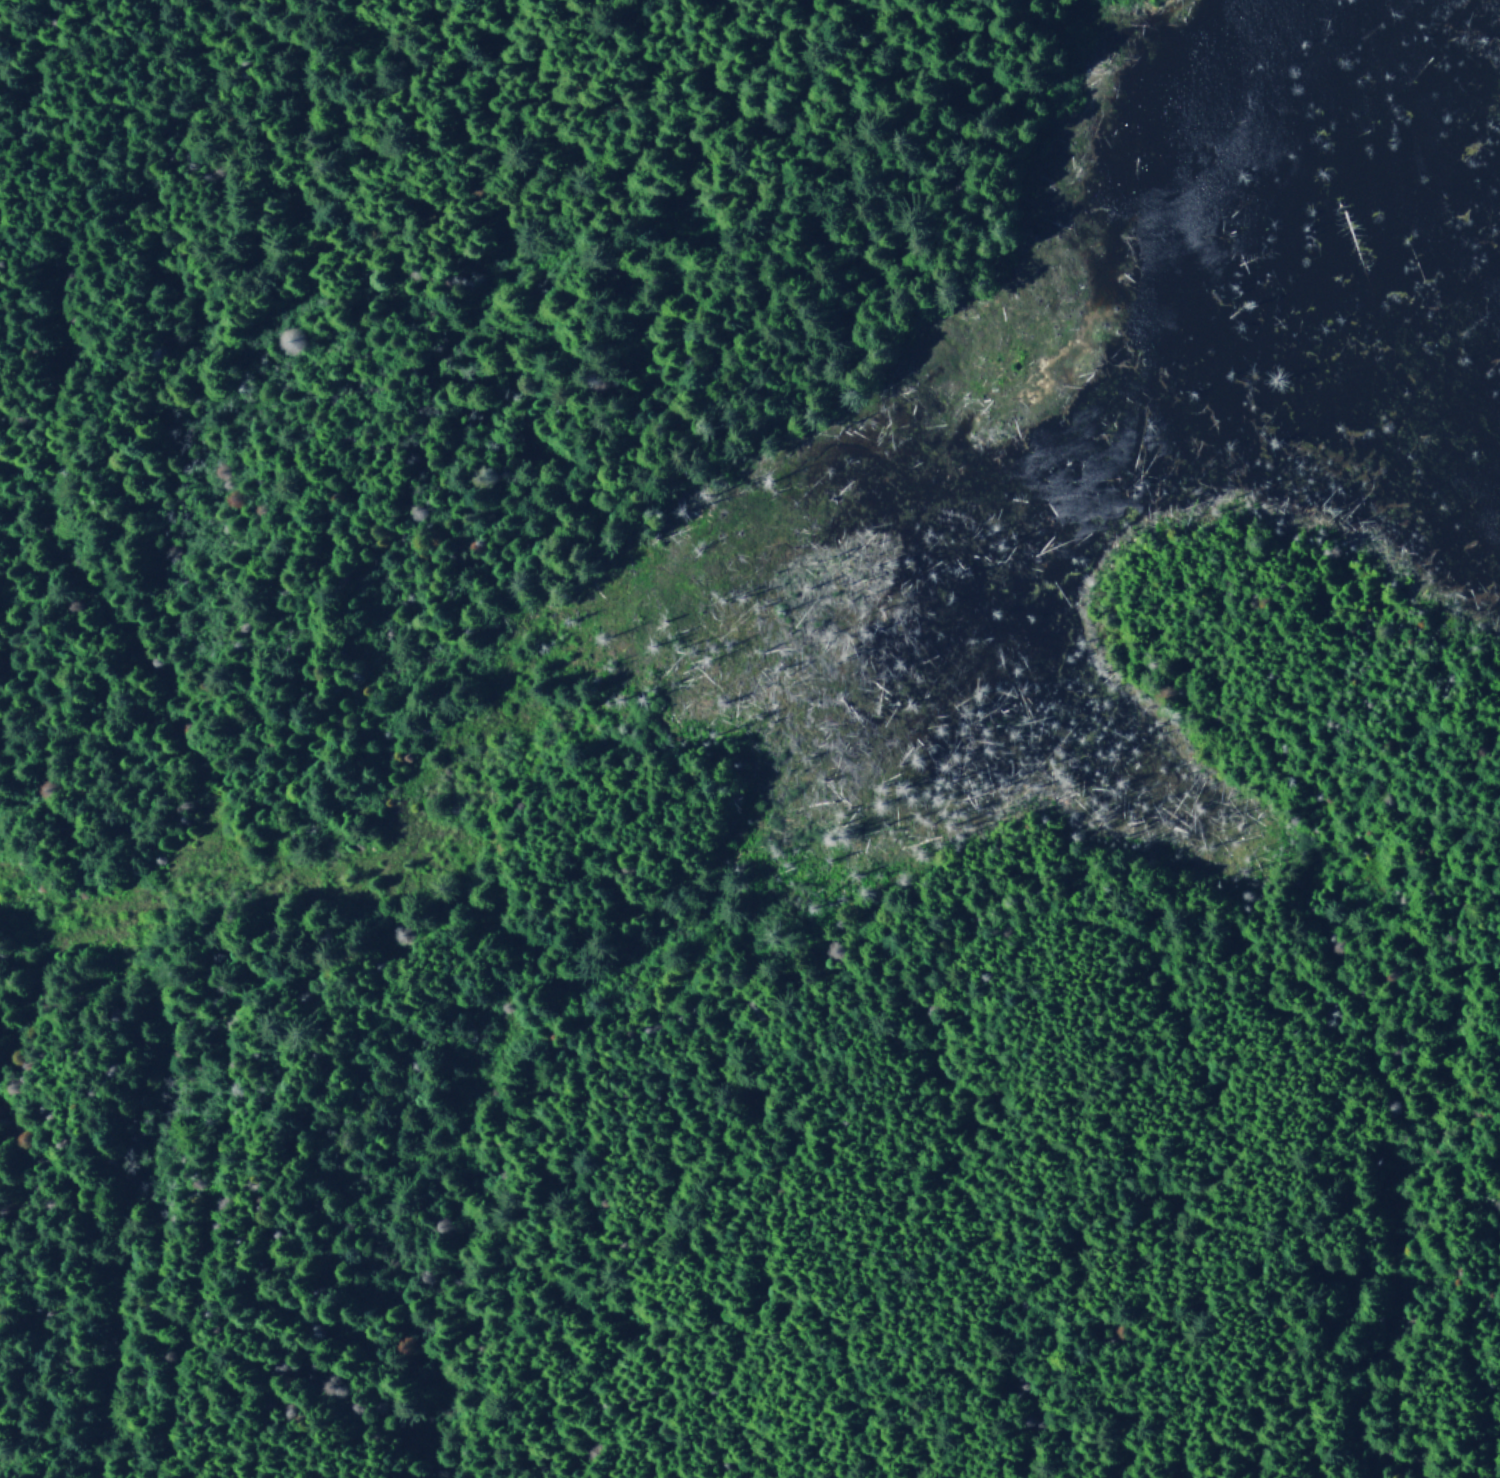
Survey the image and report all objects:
road: (1471, 1343)

